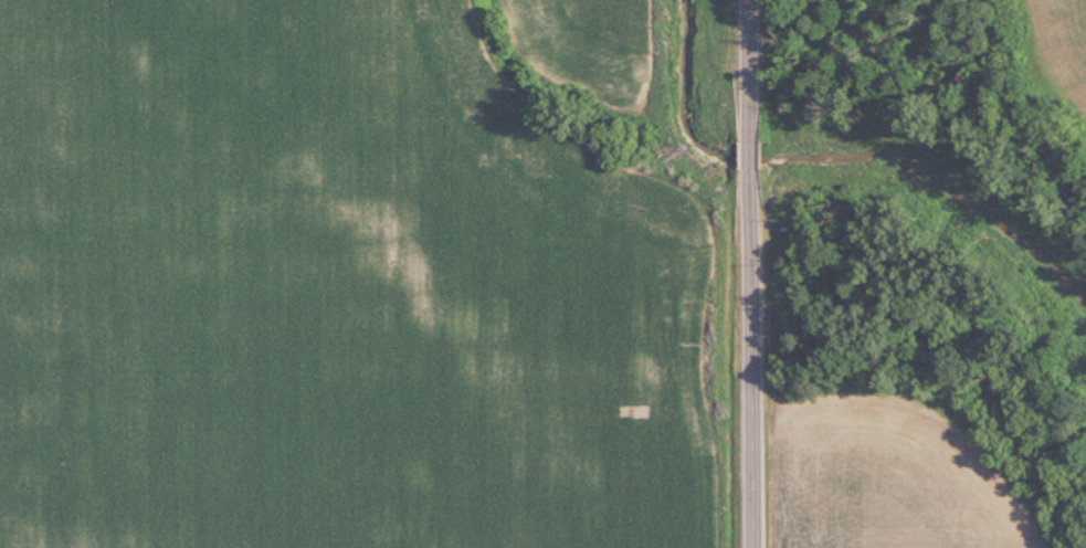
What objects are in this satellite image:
road: (749, 274)

